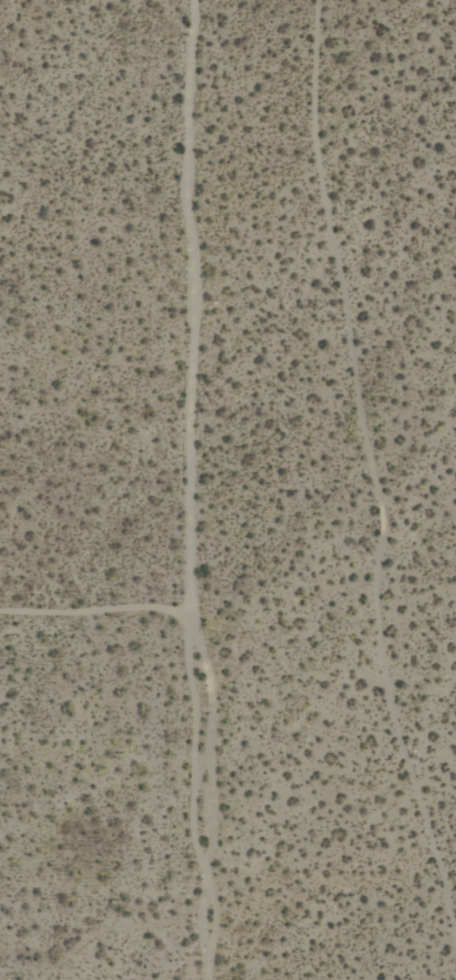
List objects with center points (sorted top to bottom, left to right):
road: (195, 490)
road: (98, 613)

